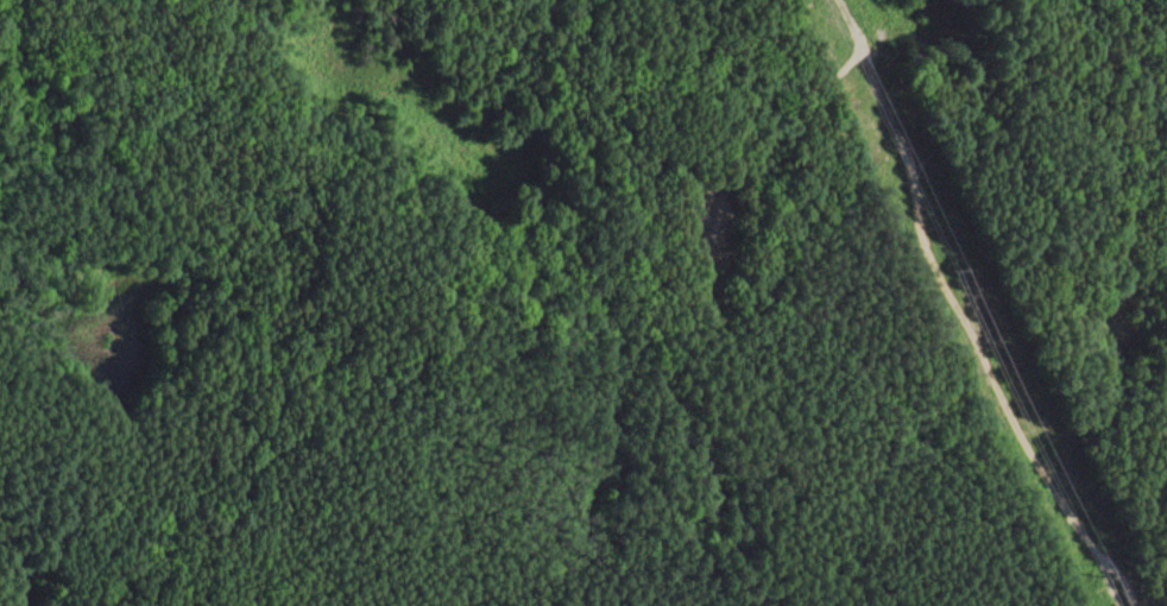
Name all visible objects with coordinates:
road: (124, 151)
road: (707, 278)
road: (969, 337)

